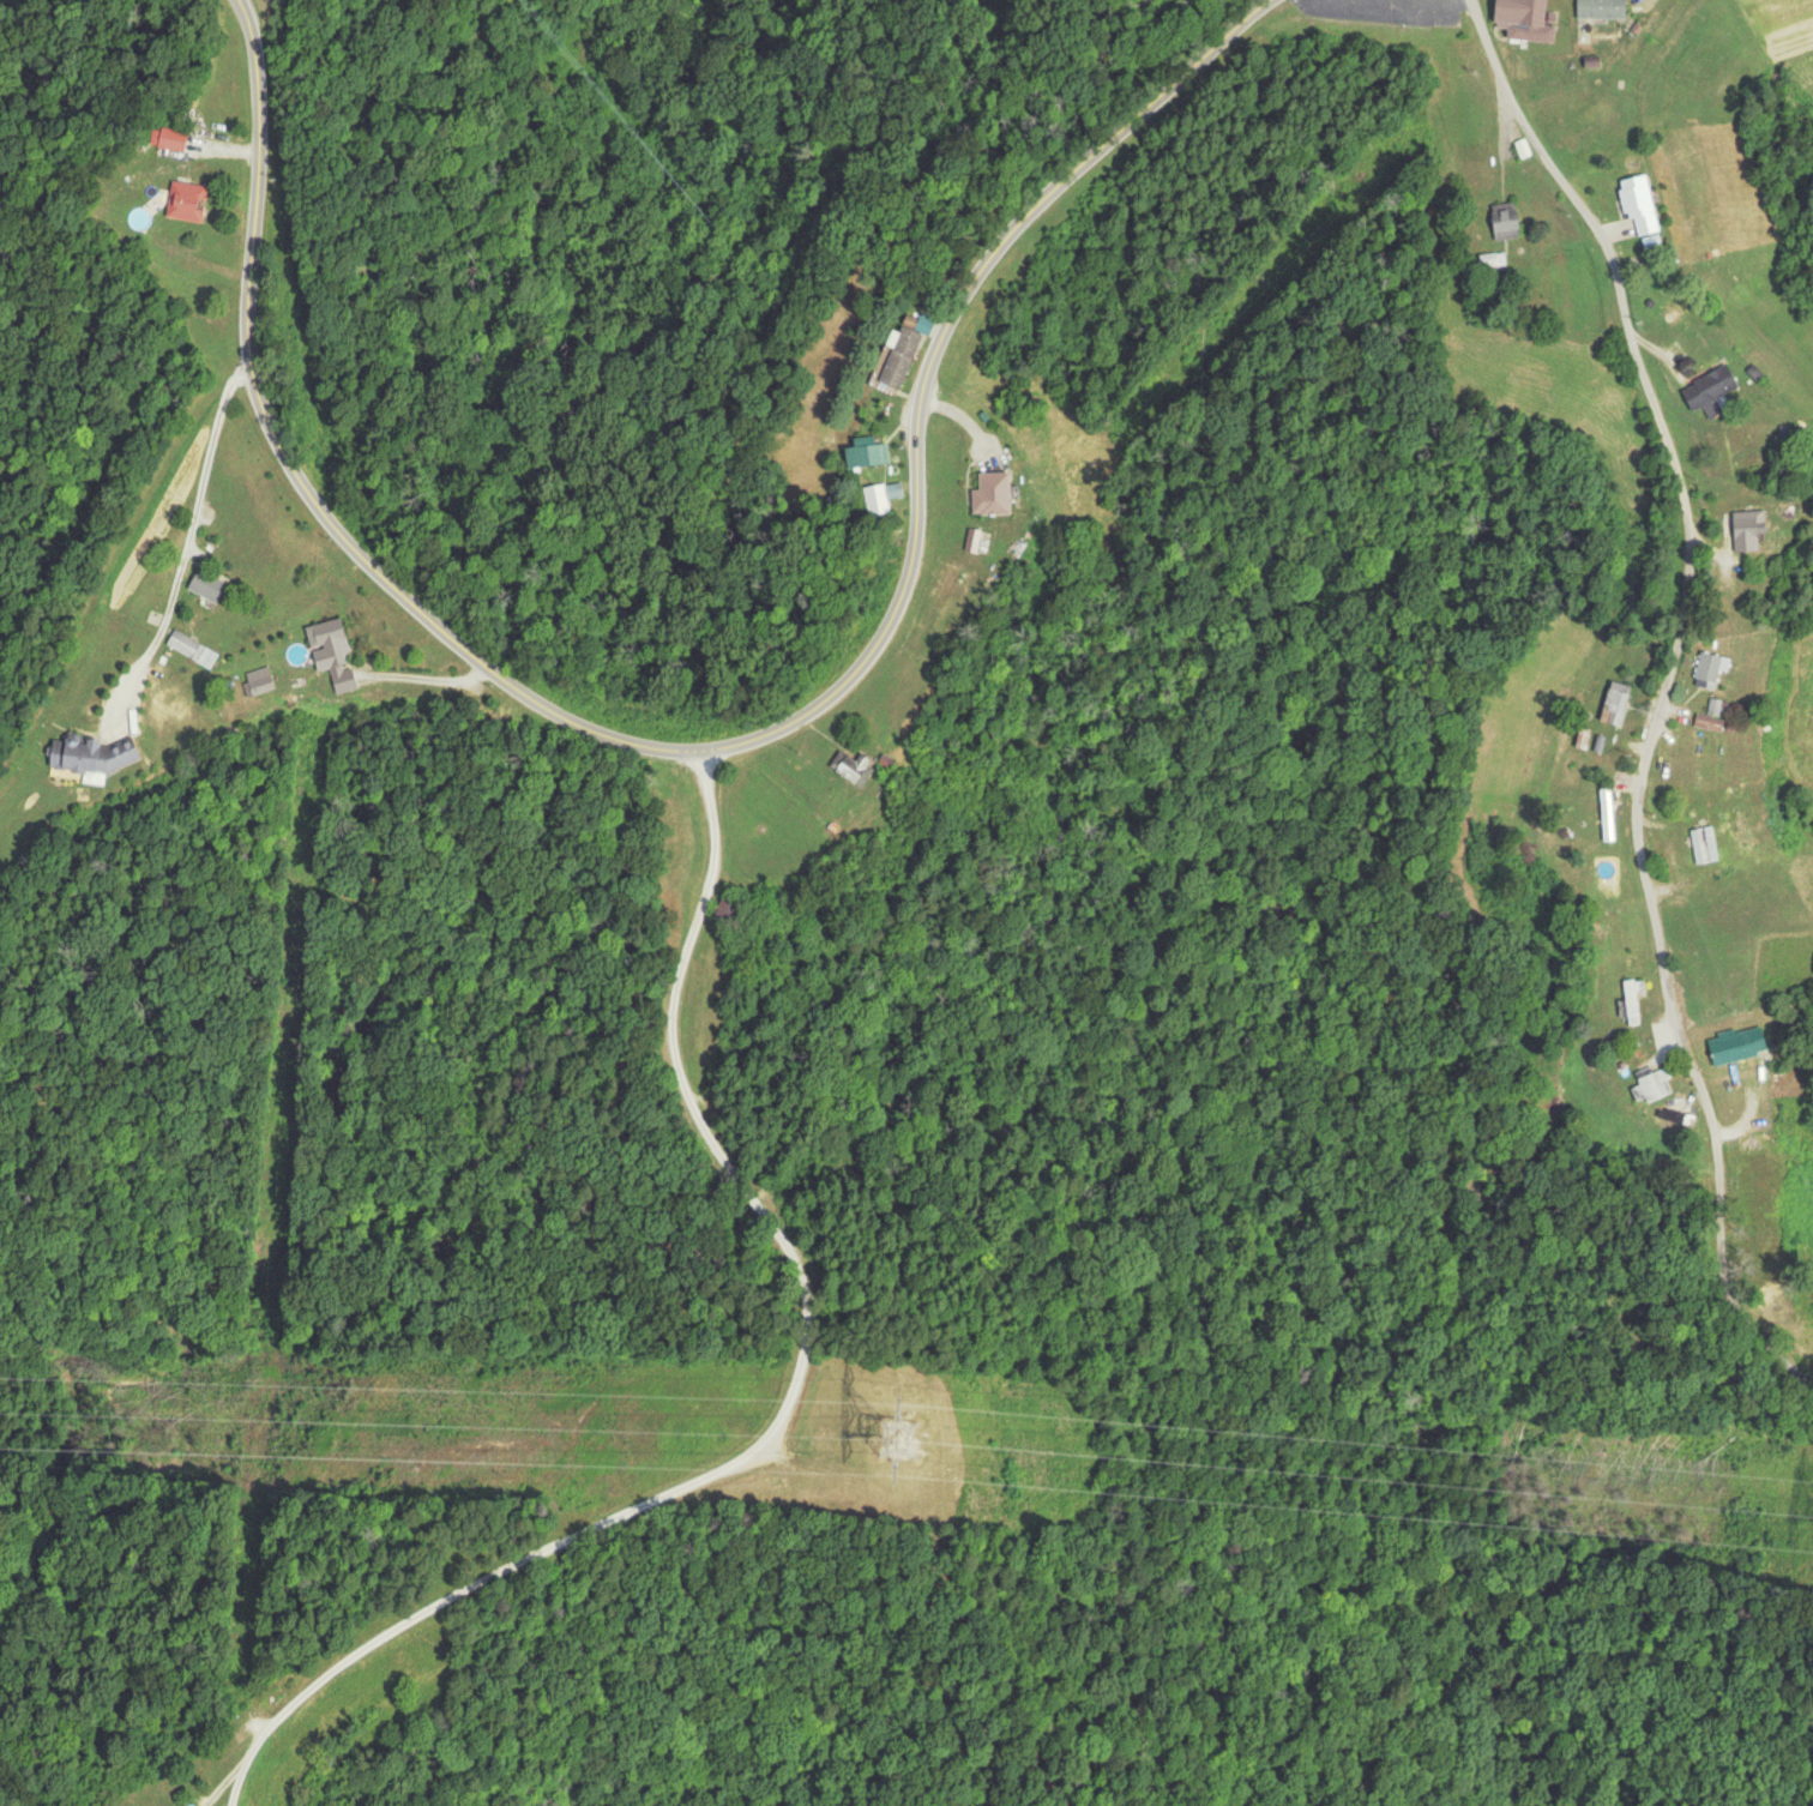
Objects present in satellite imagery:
building: (1601, 8)
building: (1522, 19)
building: (173, 138)
building: (187, 200)
building: (1636, 201)
building: (1505, 219)
building: (902, 354)
road: (236, 367)
building: (1710, 390)
building: (866, 451)
building: (990, 493)
building: (883, 495)
building: (1747, 530)
road: (183, 555)
building: (213, 589)
building: (185, 643)
building: (327, 643)
building: (1710, 670)
building: (260, 680)
road: (1661, 692)
building: (1615, 703)
building: (1709, 722)
road: (709, 753)
building: (90, 754)
building: (850, 765)
building: (1607, 811)
building: (1739, 830)
building: (1704, 844)
building: (1634, 1001)
building: (1735, 1045)
building: (1652, 1083)
road: (784, 1409)
power tower: (897, 1437)

